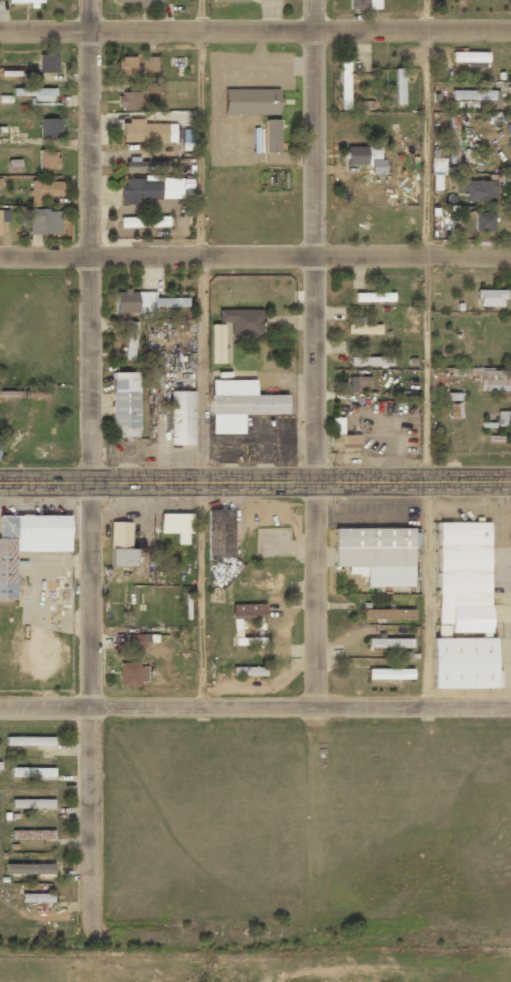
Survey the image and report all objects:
building: (230, 0)
building: (24, 2)
building: (140, 2)
building: (364, 4)
road: (255, 30)
building: (470, 56)
building: (48, 62)
building: (149, 63)
building: (126, 66)
building: (344, 84)
building: (399, 86)
building: (36, 93)
building: (474, 97)
building: (128, 100)
building: (251, 101)
building: (366, 104)
building: (50, 127)
building: (147, 131)
building: (272, 135)
building: (453, 138)
building: (362, 154)
building: (469, 155)
building: (48, 159)
building: (14, 164)
building: (145, 165)
building: (378, 165)
building: (437, 166)
building: (505, 180)
building: (150, 188)
building: (45, 190)
building: (478, 190)
building: (44, 221)
building: (144, 221)
building: (484, 221)
building: (0, 225)
road: (255, 256)
building: (374, 297)
building: (491, 297)
building: (146, 301)
building: (243, 321)
building: (363, 326)
building: (130, 340)
building: (217, 343)
building: (227, 350)
road: (200, 353)
road: (425, 353)
building: (370, 361)
building: (154, 376)
building: (487, 377)
building: (437, 378)
building: (358, 383)
building: (10, 393)
building: (455, 396)
building: (125, 404)
building: (240, 404)
building: (182, 417)
building: (502, 418)
building: (347, 440)
road: (86, 469)
road: (255, 480)
road: (317, 480)
building: (176, 526)
building: (28, 542)
building: (121, 545)
building: (377, 554)
building: (464, 609)
building: (248, 610)
building: (388, 614)
building: (237, 627)
building: (136, 641)
building: (250, 641)
building: (389, 642)
building: (249, 671)
building: (390, 673)
building: (133, 674)
road: (255, 706)
building: (30, 740)
building: (33, 772)
building: (32, 803)
building: (33, 834)
building: (45, 866)
building: (37, 897)
road: (255, 954)

